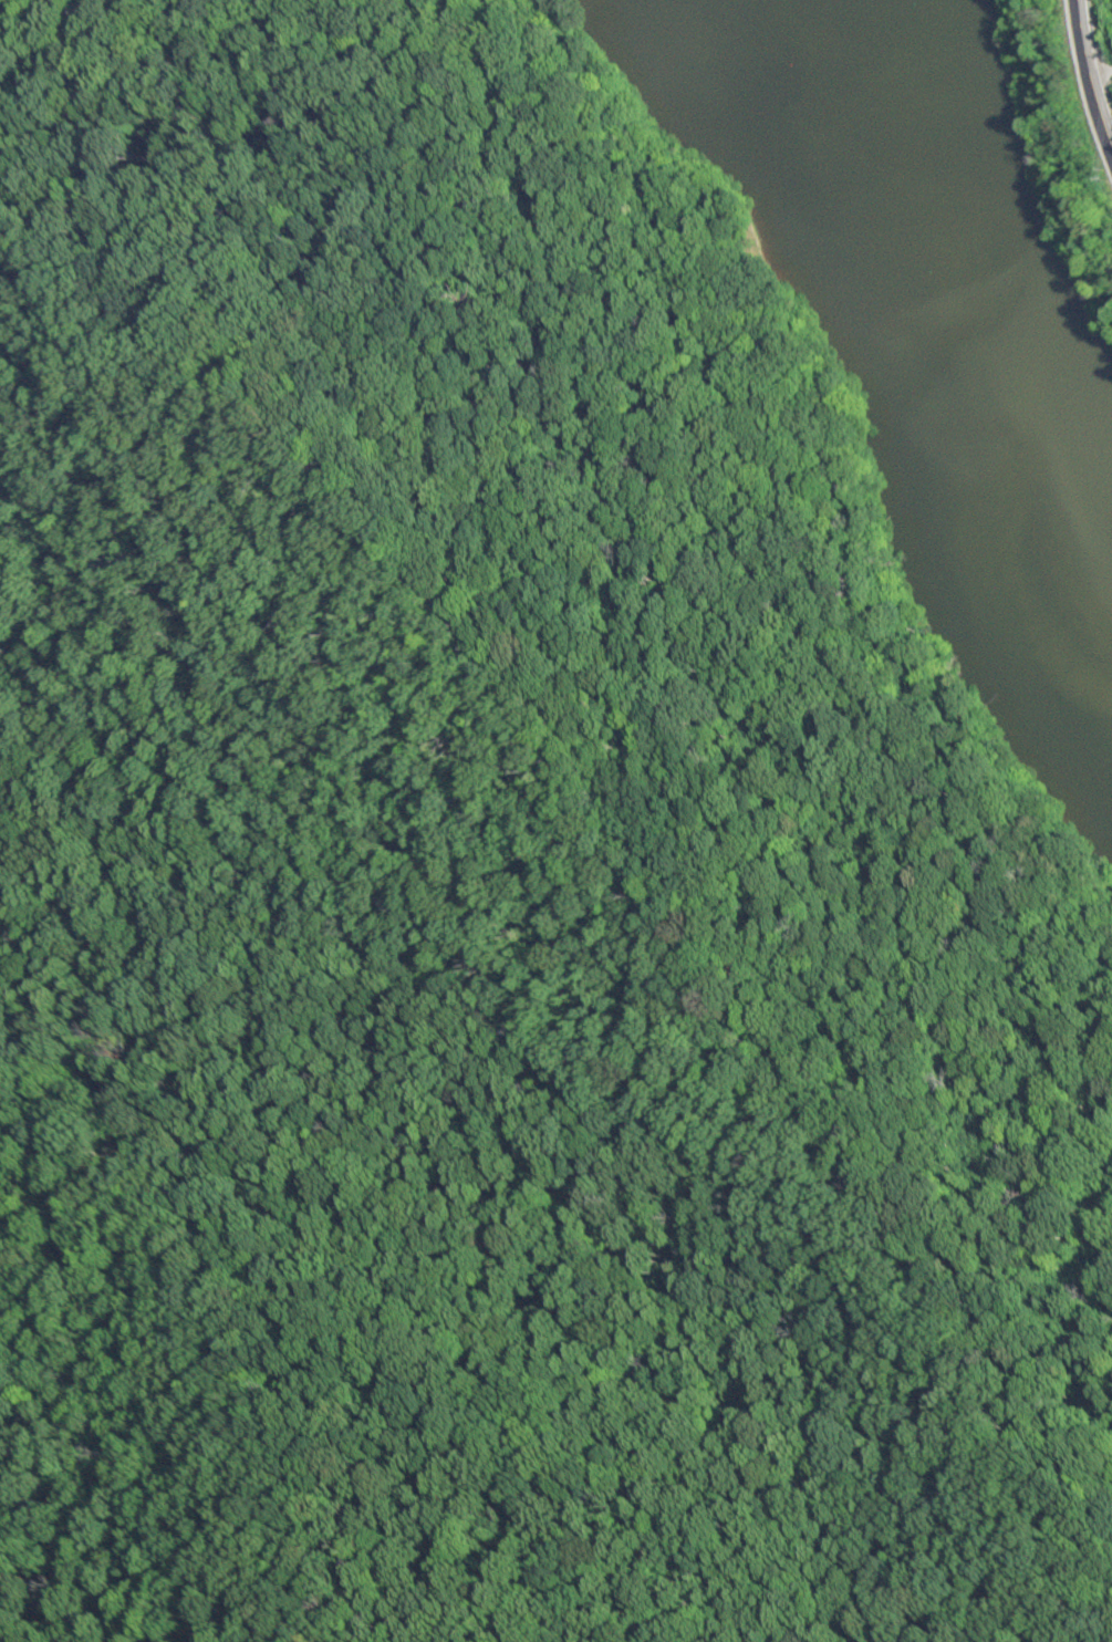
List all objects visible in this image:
road: (1100, 74)
road: (1088, 79)
river: (924, 252)

